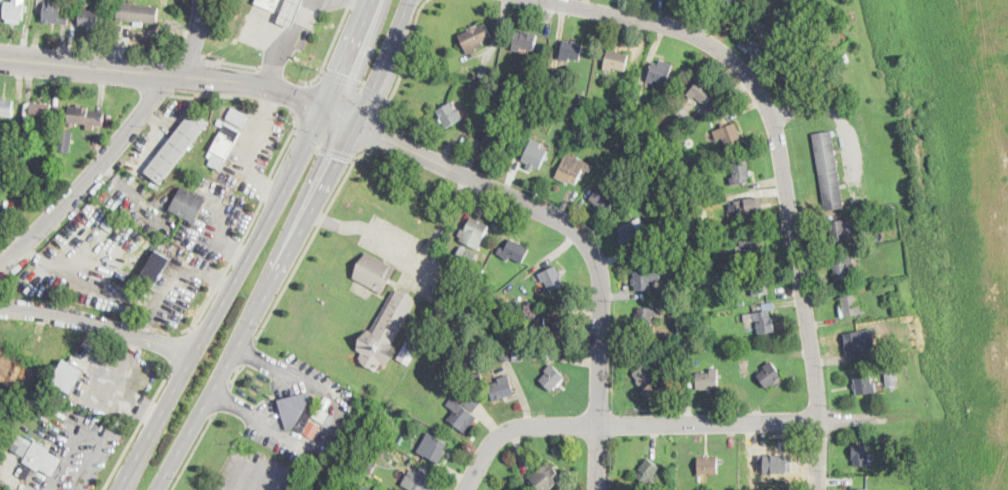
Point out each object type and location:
building: (269, 4)
building: (727, 5)
building: (15, 10)
building: (56, 12)
building: (290, 12)
building: (138, 14)
building: (90, 17)
building: (761, 27)
road: (26, 29)
building: (475, 37)
building: (524, 41)
road: (195, 42)
road: (330, 47)
road: (283, 50)
building: (571, 50)
road: (197, 55)
road: (352, 55)
road: (404, 59)
building: (794, 60)
building: (615, 61)
road: (231, 62)
road: (385, 62)
road: (84, 65)
building: (828, 66)
road: (274, 67)
road: (267, 69)
traffic signals: (345, 73)
building: (659, 74)
building: (486, 75)
building: (475, 76)
road: (251, 82)
road: (356, 83)
building: (473, 87)
building: (553, 88)
building: (482, 89)
building: (531, 89)
building: (701, 92)
road: (163, 93)
road: (202, 94)
traffic signals: (299, 96)
building: (524, 97)
road: (302, 98)
building: (531, 100)
building: (582, 100)
building: (633, 104)
building: (6, 107)
building: (40, 113)
building: (576, 113)
building: (449, 115)
building: (86, 116)
building: (238, 116)
building: (629, 117)
road: (344, 118)
building: (617, 120)
building: (221, 121)
road: (375, 133)
building: (729, 134)
building: (650, 135)
traffic signals: (383, 137)
building: (65, 139)
building: (498, 139)
building: (226, 140)
building: (657, 140)
building: (177, 146)
road: (323, 146)
building: (670, 152)
building: (535, 154)
traffic signals: (341, 159)
building: (39, 162)
building: (217, 162)
road: (781, 167)
building: (573, 168)
building: (829, 171)
road: (91, 173)
building: (740, 173)
building: (683, 187)
building: (604, 198)
building: (188, 205)
building: (748, 208)
building: (697, 216)
road: (445, 221)
road: (249, 224)
road: (339, 225)
building: (839, 231)
building: (474, 232)
building: (631, 236)
road: (586, 238)
road: (309, 241)
building: (666, 241)
building: (677, 242)
building: (693, 247)
building: (752, 247)
building: (514, 251)
road: (406, 253)
building: (465, 257)
building: (156, 266)
building: (843, 268)
building: (374, 271)
building: (647, 277)
building: (551, 278)
building: (759, 284)
road: (225, 300)
building: (741, 303)
building: (898, 303)
building: (516, 305)
building: (851, 306)
building: (769, 307)
road: (258, 308)
building: (515, 317)
building: (645, 317)
building: (764, 322)
building: (685, 324)
road: (99, 325)
building: (424, 326)
building: (557, 326)
building: (387, 330)
building: (743, 338)
building: (855, 344)
road: (179, 347)
building: (410, 351)
road: (247, 352)
building: (504, 353)
building: (517, 355)
road: (258, 359)
building: (769, 374)
building: (477, 375)
road: (235, 376)
building: (69, 377)
building: (552, 377)
building: (892, 379)
building: (650, 380)
building: (709, 380)
building: (864, 384)
building: (502, 387)
building: (458, 388)
road: (222, 399)
road: (233, 405)
building: (322, 408)
building: (298, 411)
building: (464, 411)
road: (327, 424)
road: (624, 425)
road: (135, 429)
building: (433, 448)
road: (192, 450)
building: (861, 454)
building: (43, 458)
building: (368, 463)
road: (254, 464)
building: (708, 466)
building: (22, 470)
building: (648, 471)
building: (770, 472)
building: (546, 478)
building: (419, 479)
building: (379, 488)
building: (858, 489)

